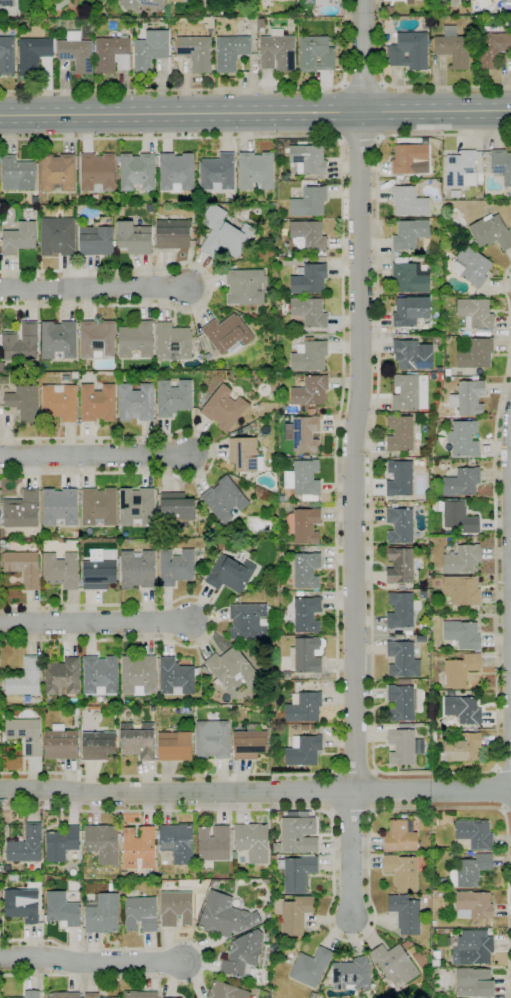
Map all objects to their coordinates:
building: (234, 0)
building: (173, 1)
building: (321, 2)
building: (7, 3)
building: (131, 6)
building: (387, 10)
building: (15, 15)
building: (172, 15)
building: (261, 23)
building: (246, 25)
building: (175, 31)
building: (172, 41)
building: (453, 48)
building: (33, 49)
building: (491, 49)
building: (409, 50)
building: (150, 51)
building: (76, 52)
building: (196, 52)
building: (230, 52)
building: (277, 52)
building: (112, 54)
building: (315, 54)
building: (7, 56)
road: (363, 83)
road: (405, 87)
road: (214, 90)
road: (255, 113)
road: (359, 141)
building: (308, 159)
building: (410, 159)
building: (502, 165)
building: (460, 169)
building: (256, 170)
building: (137, 172)
building: (176, 172)
building: (17, 173)
building: (57, 173)
building: (97, 173)
building: (217, 173)
building: (399, 177)
building: (455, 194)
building: (107, 198)
building: (34, 201)
building: (409, 202)
building: (309, 203)
building: (196, 207)
building: (204, 208)
building: (149, 209)
building: (491, 232)
building: (172, 234)
building: (224, 234)
building: (410, 234)
building: (307, 235)
building: (464, 235)
building: (57, 237)
building: (18, 238)
building: (133, 238)
building: (96, 239)
building: (470, 240)
building: (198, 252)
building: (396, 254)
building: (473, 266)
building: (409, 277)
building: (309, 280)
road: (93, 286)
road: (210, 287)
building: (244, 287)
building: (439, 297)
building: (280, 300)
building: (410, 311)
building: (309, 312)
building: (476, 315)
building: (227, 334)
building: (97, 339)
building: (58, 340)
building: (136, 340)
building: (173, 342)
building: (20, 343)
building: (474, 353)
building: (413, 355)
building: (309, 356)
building: (74, 366)
building: (2, 369)
building: (439, 370)
building: (447, 372)
building: (474, 378)
building: (199, 380)
building: (310, 391)
building: (409, 391)
building: (173, 397)
road: (359, 397)
building: (468, 398)
building: (59, 402)
building: (136, 402)
building: (24, 403)
building: (97, 403)
building: (223, 408)
building: (310, 412)
building: (246, 429)
building: (303, 433)
building: (400, 434)
building: (463, 439)
road: (336, 453)
road: (212, 454)
road: (95, 455)
building: (244, 455)
building: (398, 459)
building: (399, 478)
building: (303, 480)
building: (461, 482)
building: (224, 499)
building: (98, 506)
building: (137, 506)
building: (59, 507)
building: (176, 509)
building: (22, 510)
building: (458, 516)
building: (304, 526)
building: (399, 526)
building: (198, 559)
building: (462, 560)
building: (400, 566)
building: (24, 567)
building: (175, 567)
building: (137, 569)
building: (60, 570)
building: (202, 571)
building: (306, 571)
building: (98, 574)
building: (230, 574)
building: (462, 590)
building: (310, 594)
building: (400, 611)
building: (306, 614)
road: (214, 621)
building: (248, 621)
road: (95, 623)
building: (412, 633)
building: (462, 635)
building: (390, 637)
building: (454, 650)
building: (260, 652)
building: (308, 654)
building: (402, 660)
building: (229, 668)
building: (460, 670)
building: (100, 675)
building: (138, 675)
building: (287, 675)
building: (176, 677)
building: (25, 678)
building: (62, 678)
building: (404, 681)
building: (245, 686)
road: (372, 702)
building: (403, 702)
building: (303, 707)
building: (463, 710)
building: (9, 711)
building: (74, 712)
building: (313, 726)
building: (405, 726)
building: (232, 728)
building: (25, 735)
building: (212, 739)
building: (137, 741)
building: (249, 742)
building: (60, 743)
building: (98, 745)
building: (174, 746)
building: (404, 746)
building: (462, 748)
building: (303, 750)
road: (503, 768)
road: (355, 771)
road: (496, 789)
road: (375, 791)
road: (255, 792)
road: (333, 792)
building: (298, 835)
building: (473, 835)
building: (400, 836)
building: (252, 842)
building: (61, 843)
building: (102, 843)
building: (177, 843)
building: (213, 843)
building: (26, 845)
building: (139, 848)
road: (349, 855)
building: (273, 858)
building: (6, 867)
building: (0, 869)
building: (469, 871)
building: (297, 872)
building: (402, 872)
building: (124, 874)
building: (13, 877)
building: (38, 878)
building: (47, 880)
building: (110, 887)
building: (21, 905)
building: (474, 905)
building: (176, 908)
building: (61, 909)
building: (102, 914)
building: (140, 914)
building: (267, 914)
building: (293, 914)
building: (405, 914)
building: (224, 916)
road: (345, 938)
building: (473, 948)
building: (411, 950)
building: (243, 955)
road: (91, 962)
road: (203, 962)
building: (394, 964)
building: (310, 967)
building: (351, 974)
building: (474, 983)
building: (226, 991)
building: (31, 994)
building: (62, 995)
building: (91, 995)
building: (140, 995)
building: (312, 995)
building: (170, 997)

